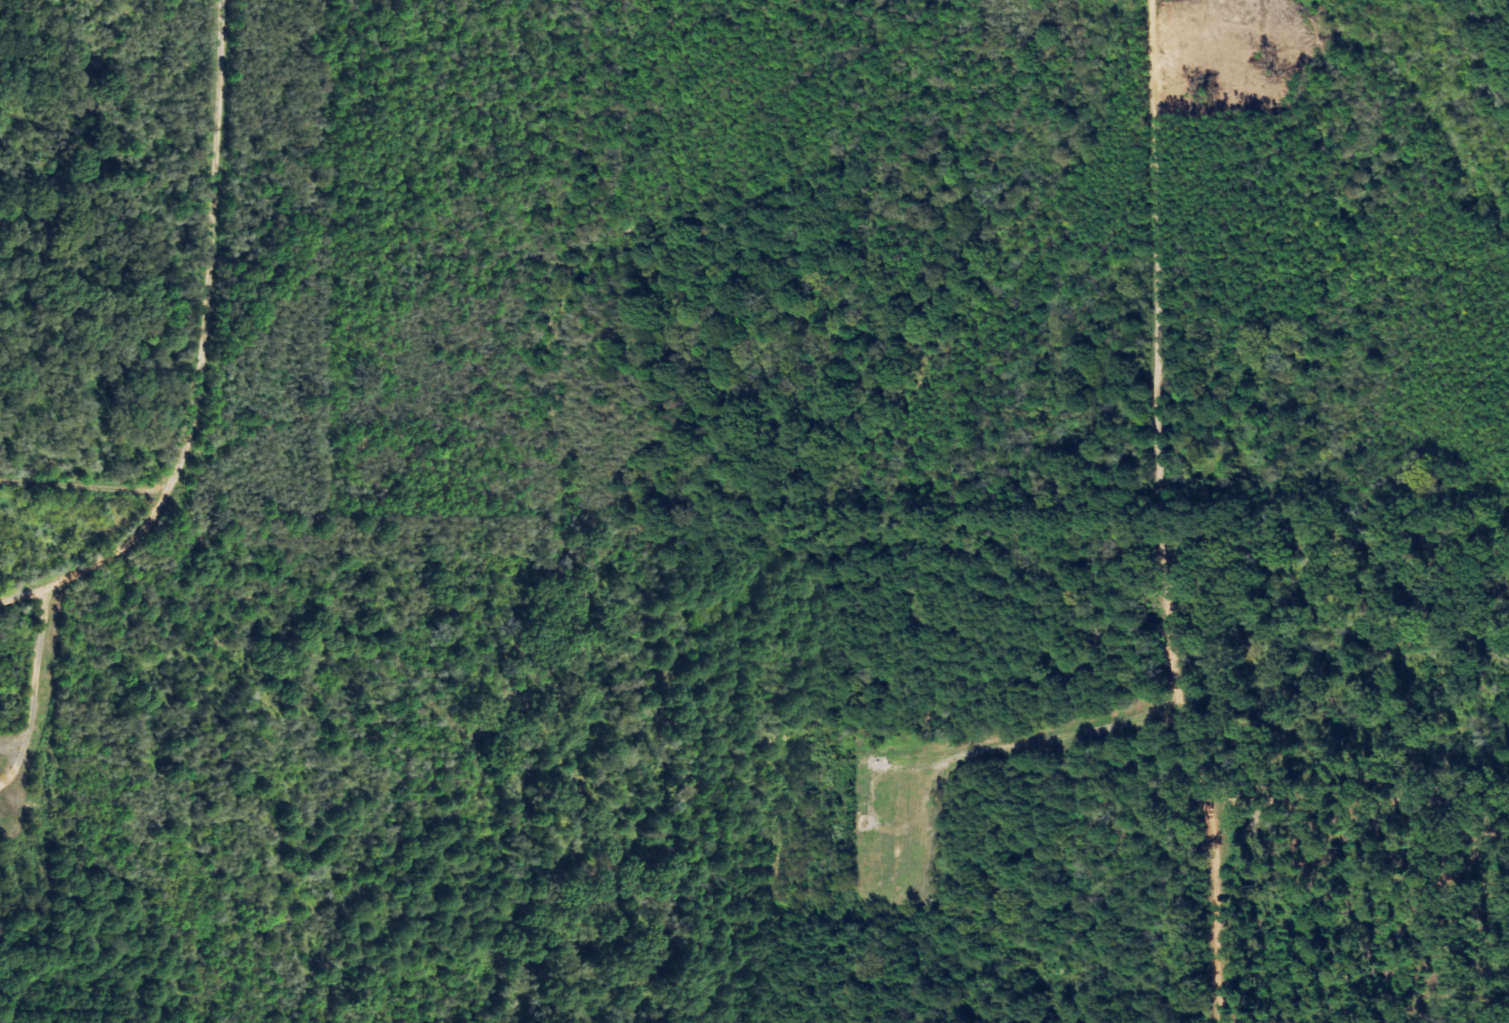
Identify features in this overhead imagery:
road: (202, 349)
road: (1150, 515)

